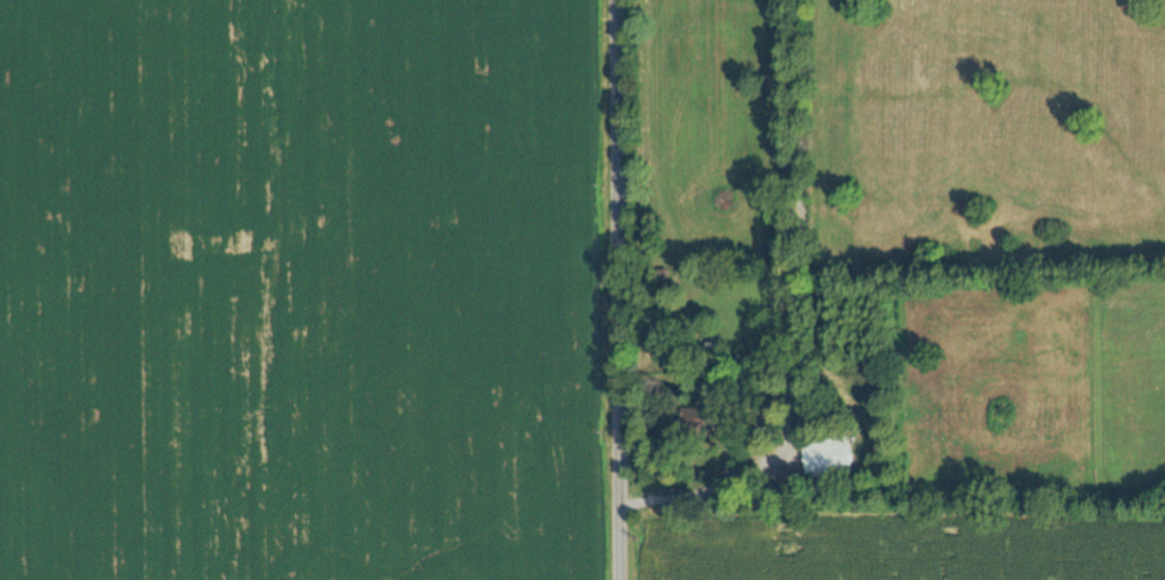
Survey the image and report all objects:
building: (659, 286)
road: (617, 290)
building: (694, 421)
building: (826, 458)

